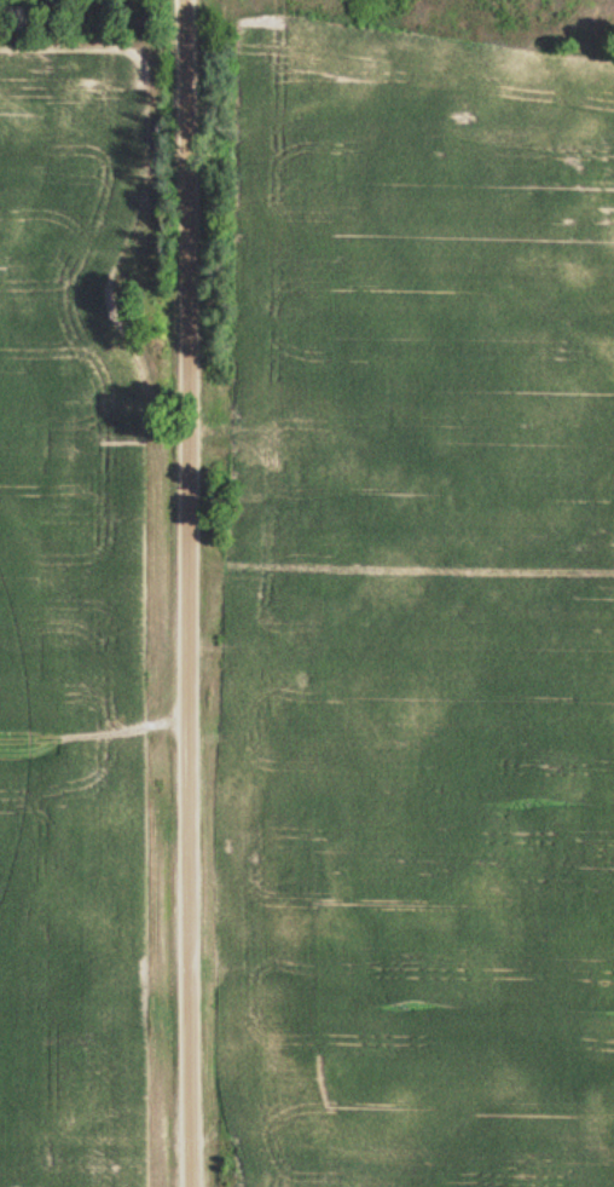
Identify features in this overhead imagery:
road: (168, 593)

